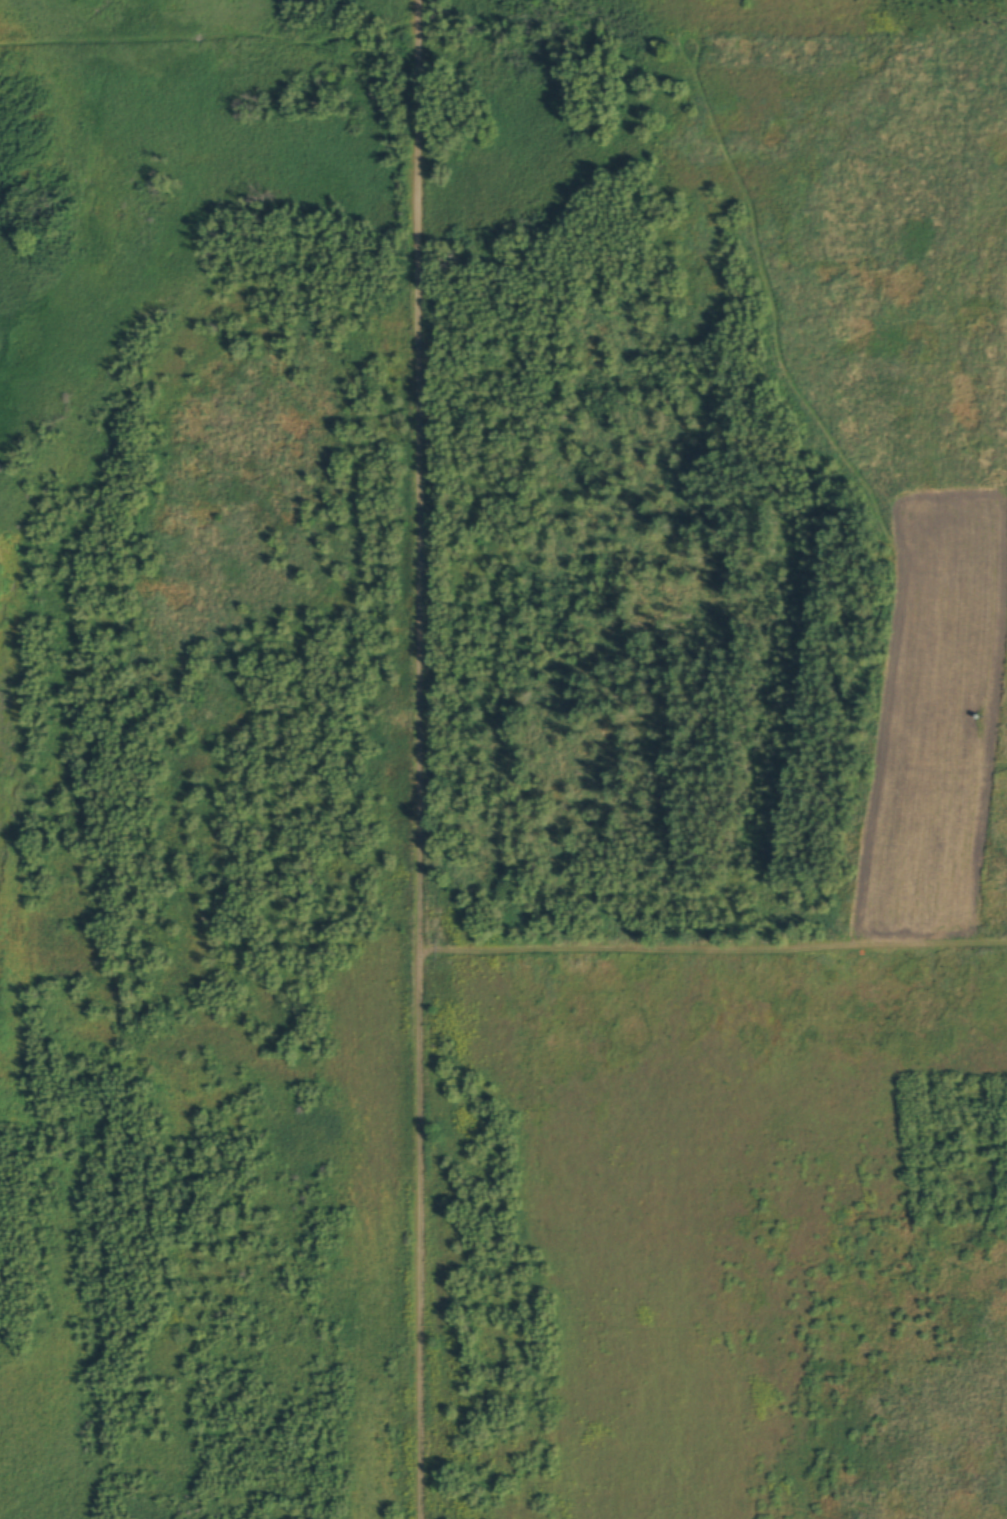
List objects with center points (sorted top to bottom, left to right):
road: (423, 759)

